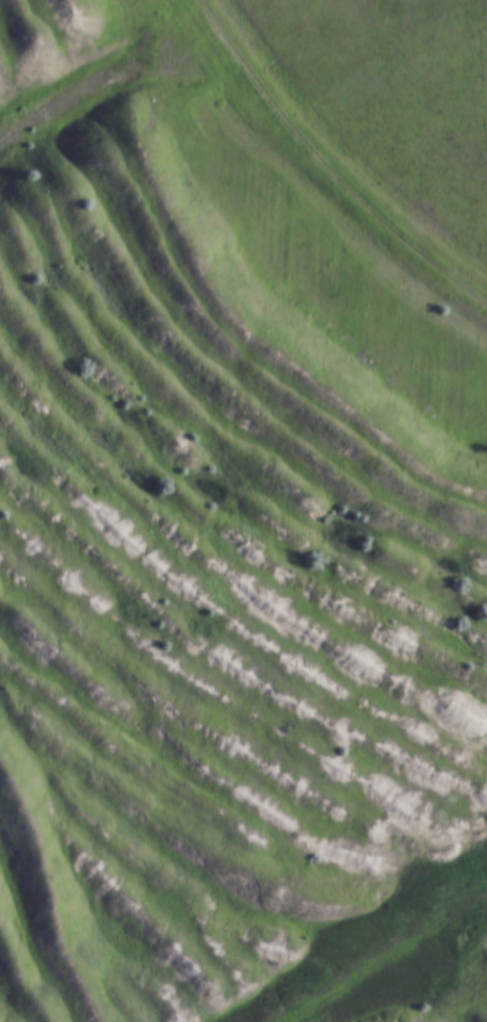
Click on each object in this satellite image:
road: (328, 166)
quarry: (231, 542)
road: (388, 960)

